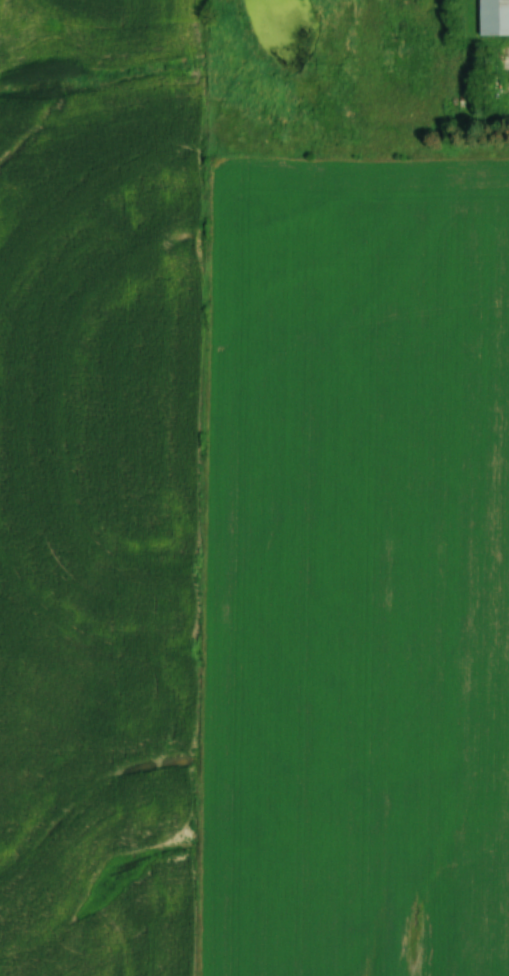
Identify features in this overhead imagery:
building: (493, 17)

